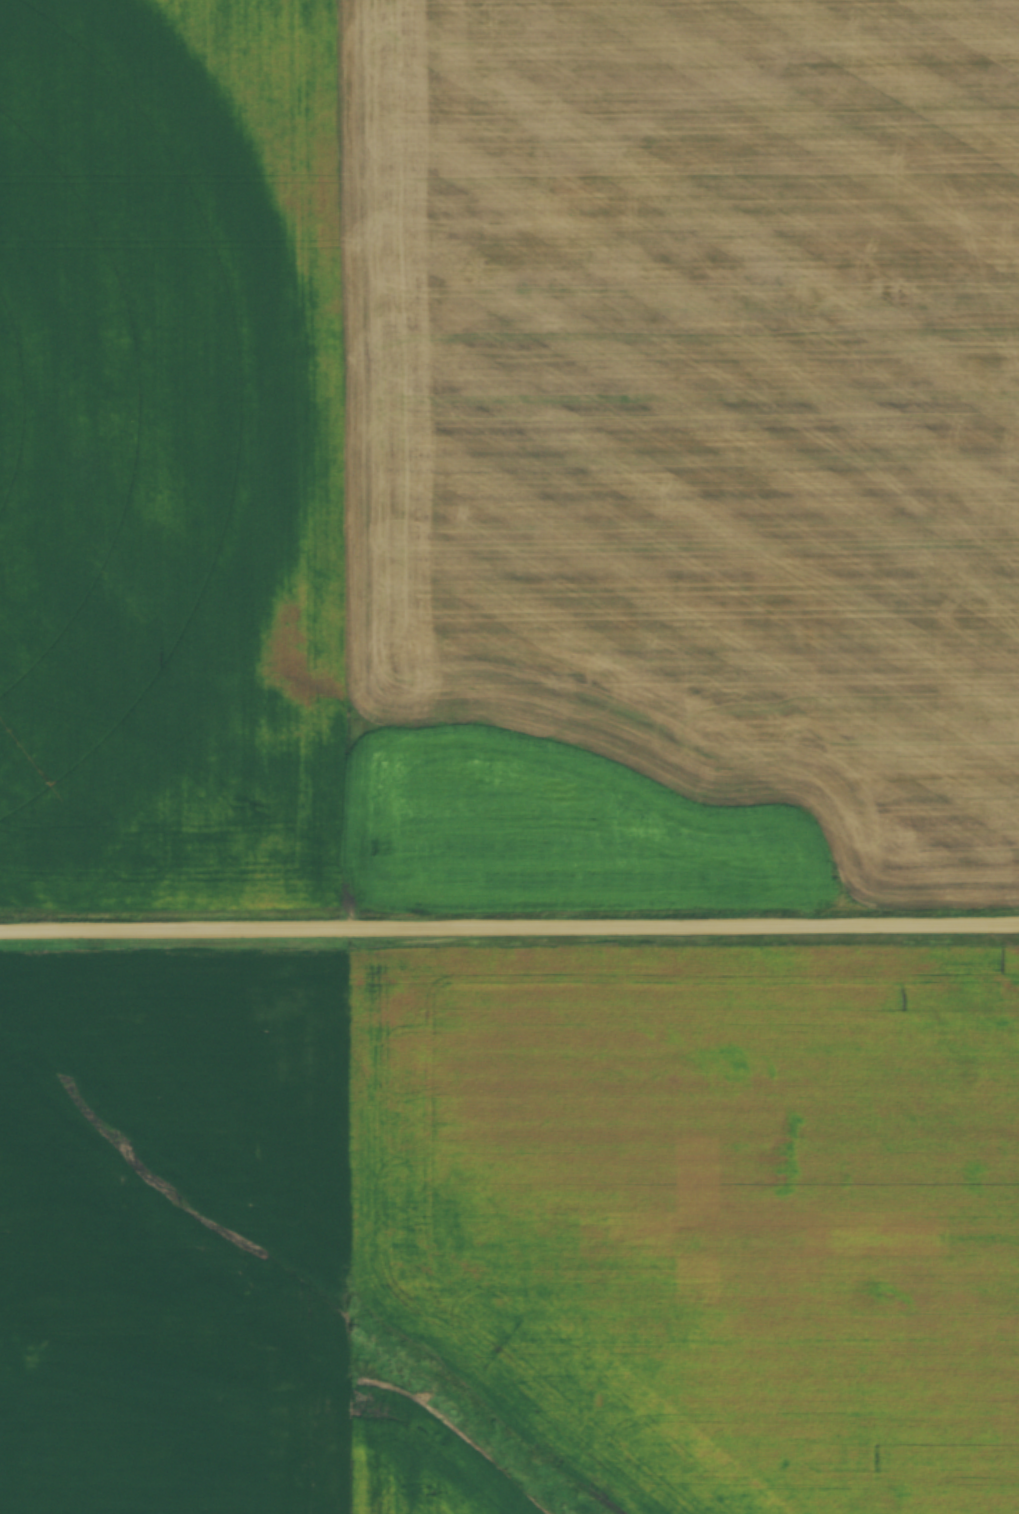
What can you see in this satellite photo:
road: (509, 930)

